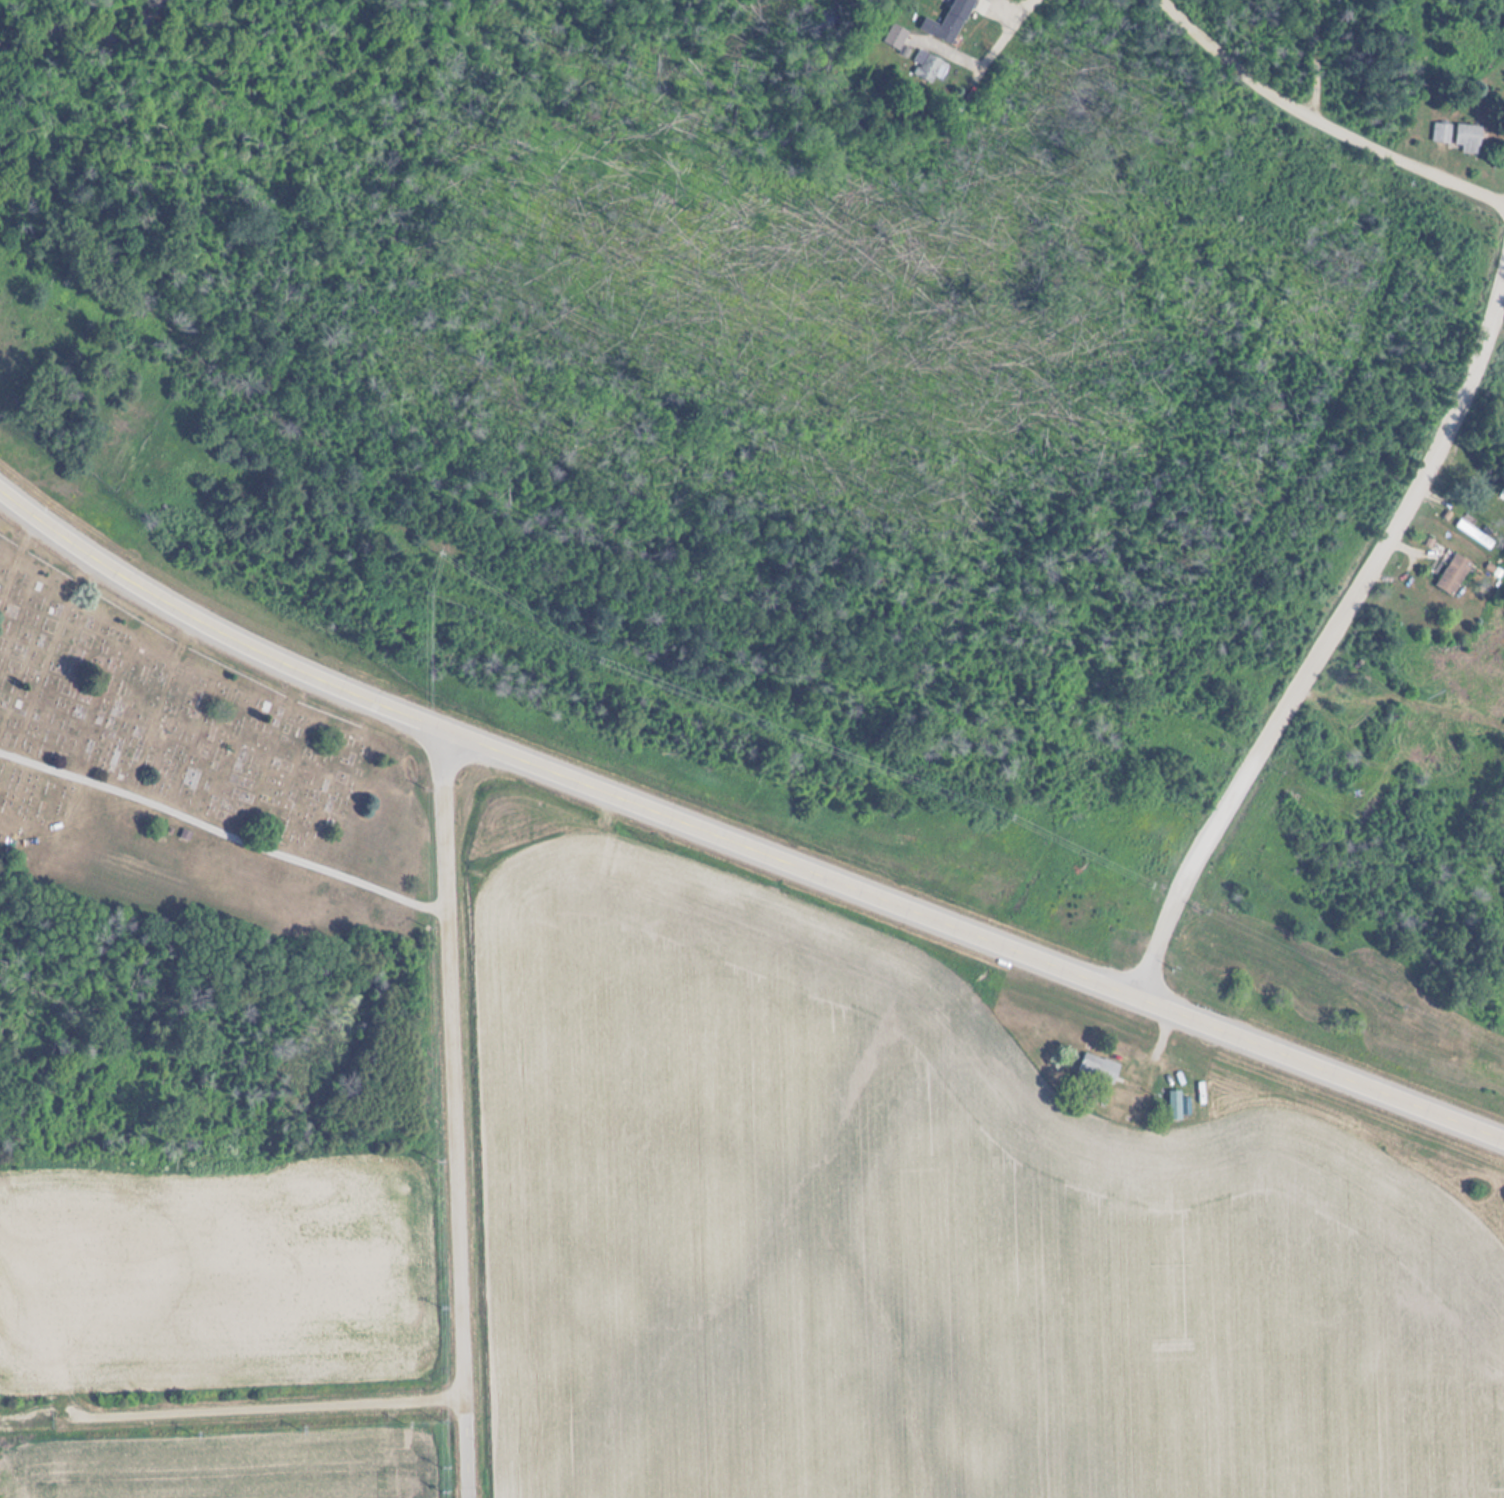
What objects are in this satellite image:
building: (947, 21)
river: (88, 30)
building: (896, 37)
road: (1317, 62)
road: (980, 65)
building: (929, 67)
road: (1320, 124)
building: (1442, 133)
building: (1468, 138)
building: (1473, 532)
building: (1454, 574)
road: (1326, 630)
park: (192, 778)
road: (223, 829)
road: (737, 841)
building: (1097, 1069)
road: (453, 1112)
crop: (217, 1275)
road: (231, 1406)

